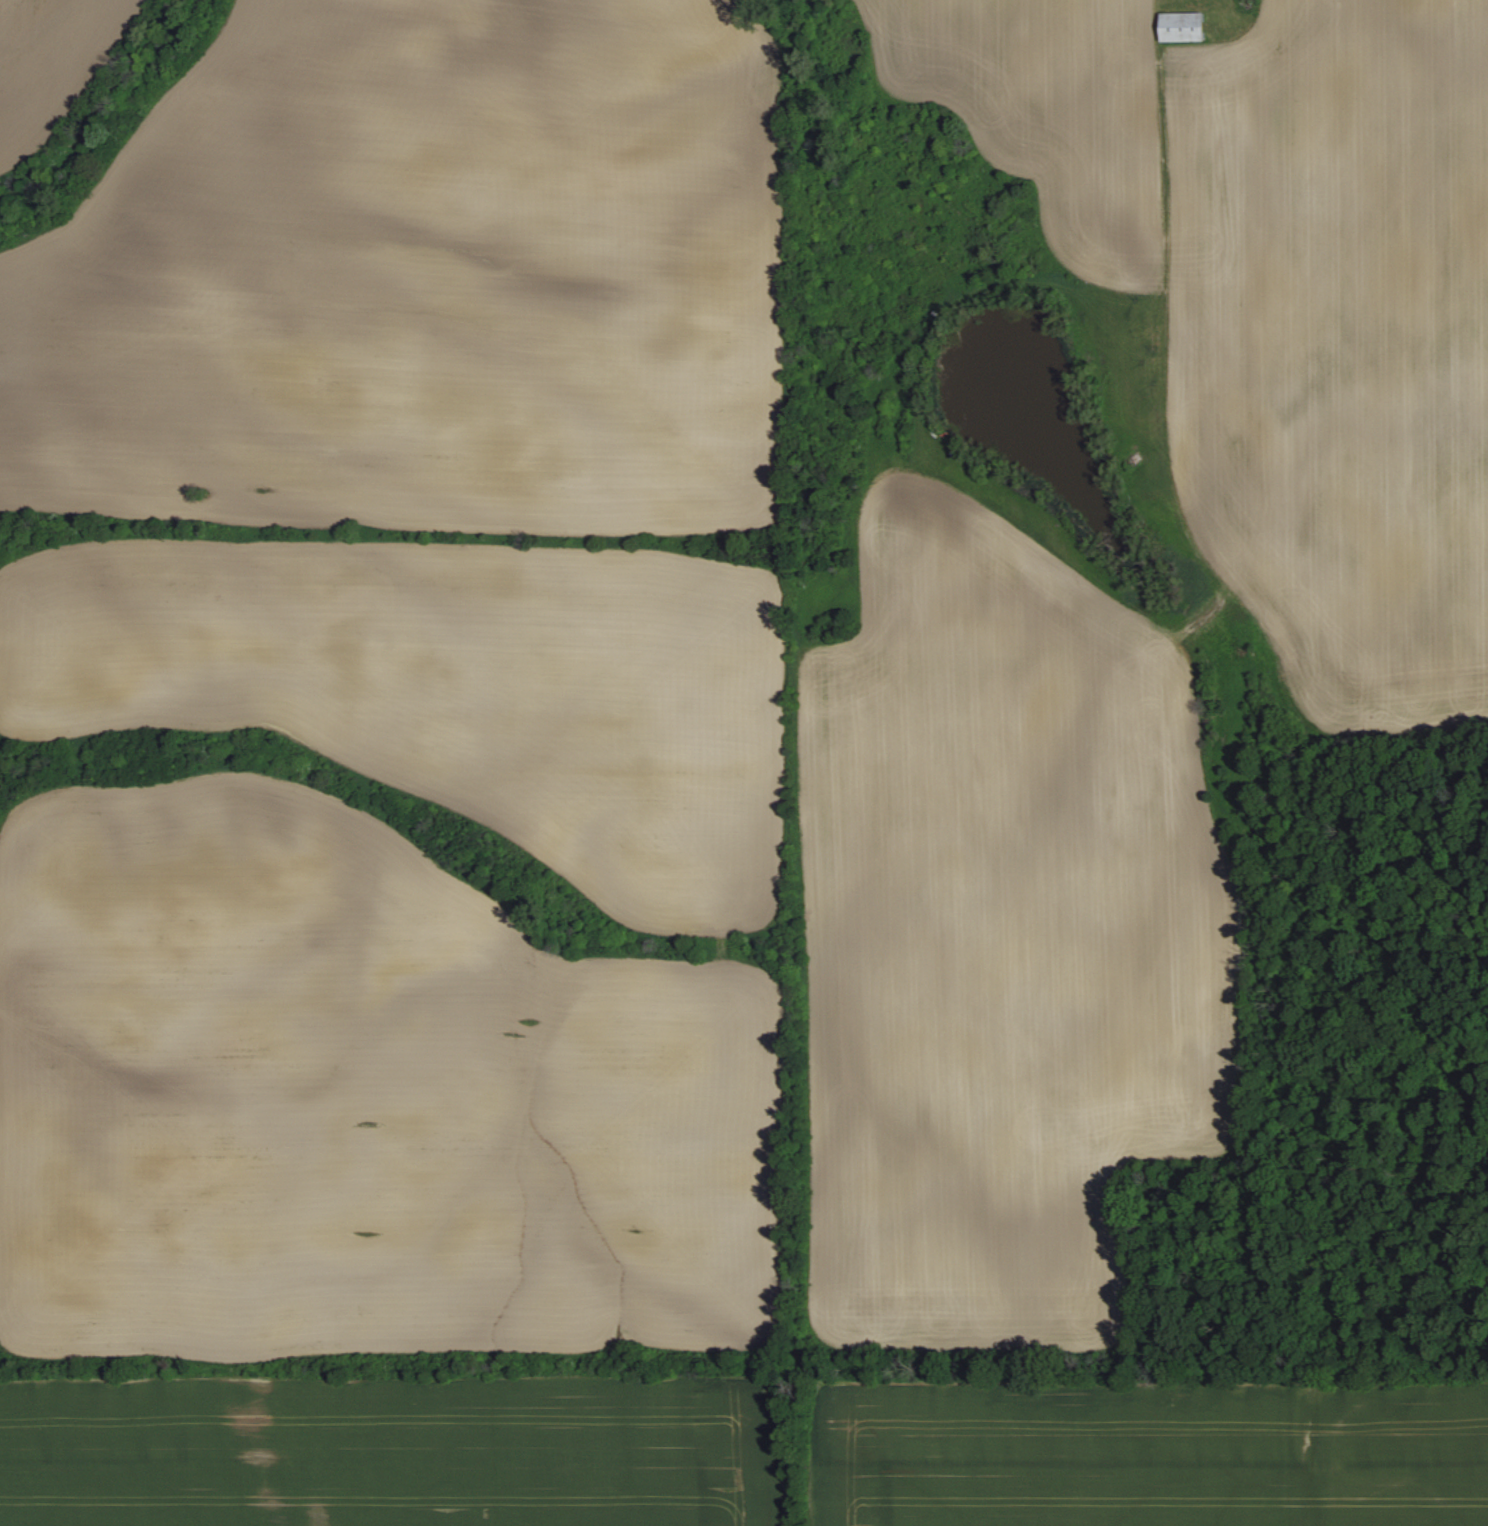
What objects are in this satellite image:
building: (1179, 27)

